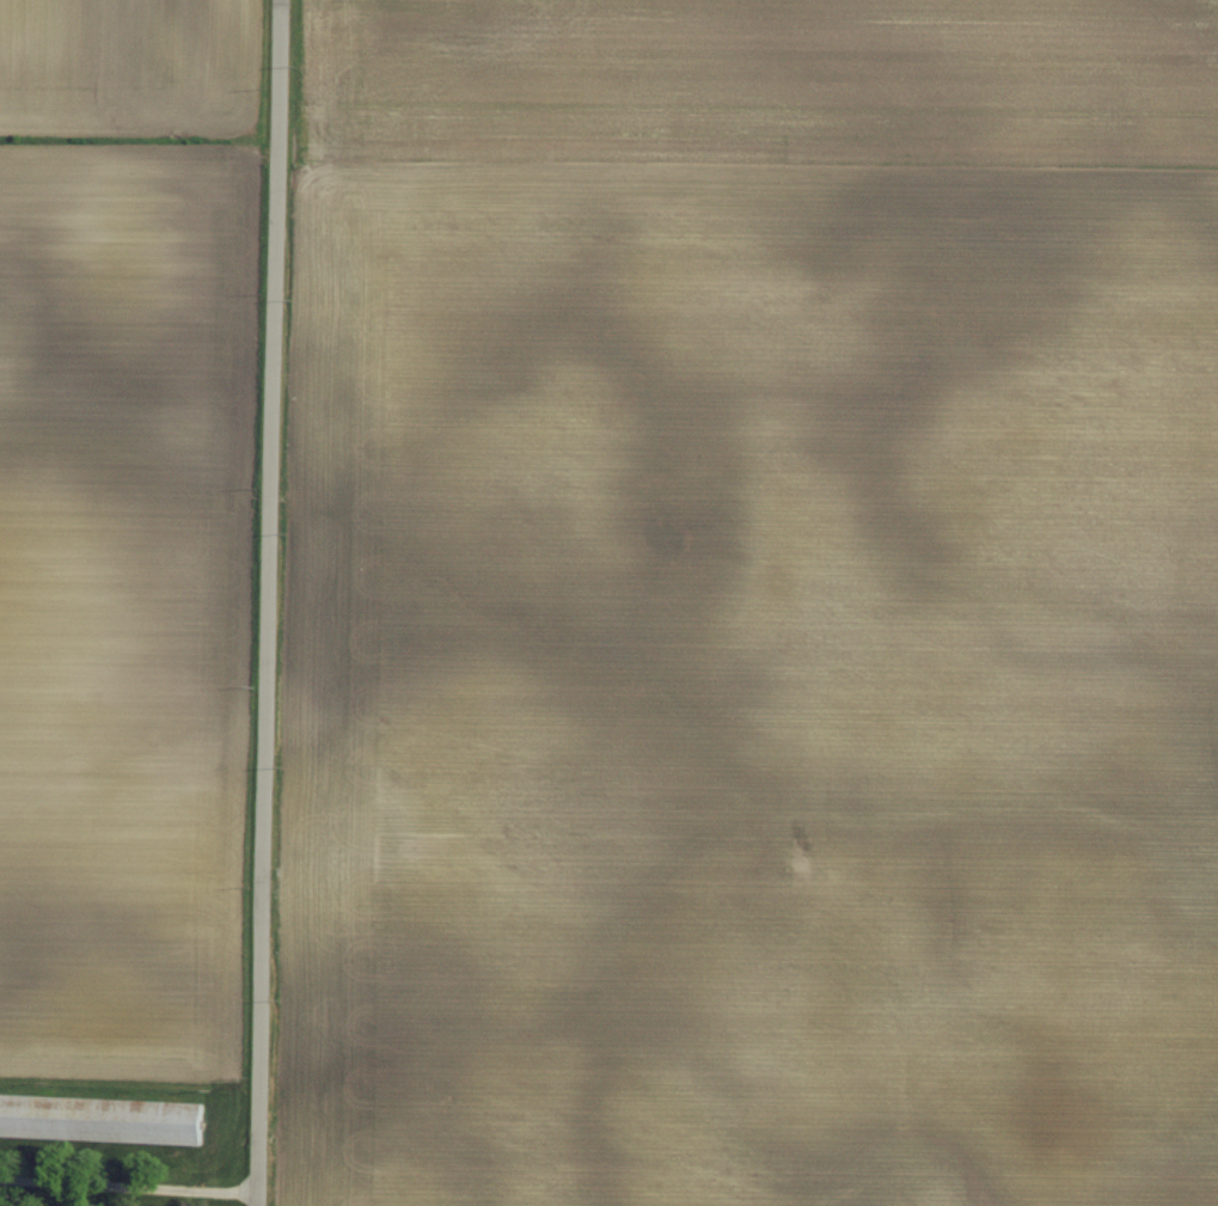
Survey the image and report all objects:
road: (268, 602)
building: (103, 1115)
road: (129, 1186)

